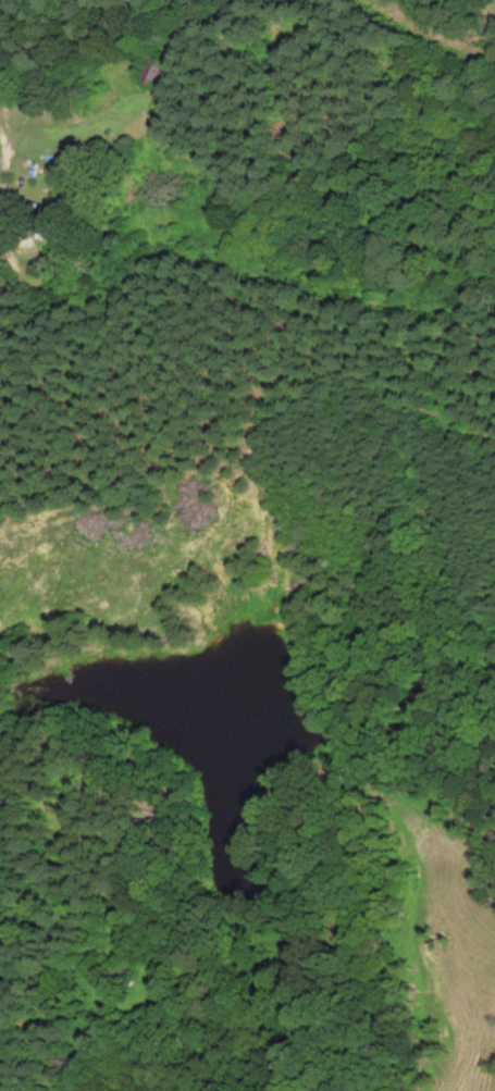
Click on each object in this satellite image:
building: (158, 69)
building: (57, 209)

